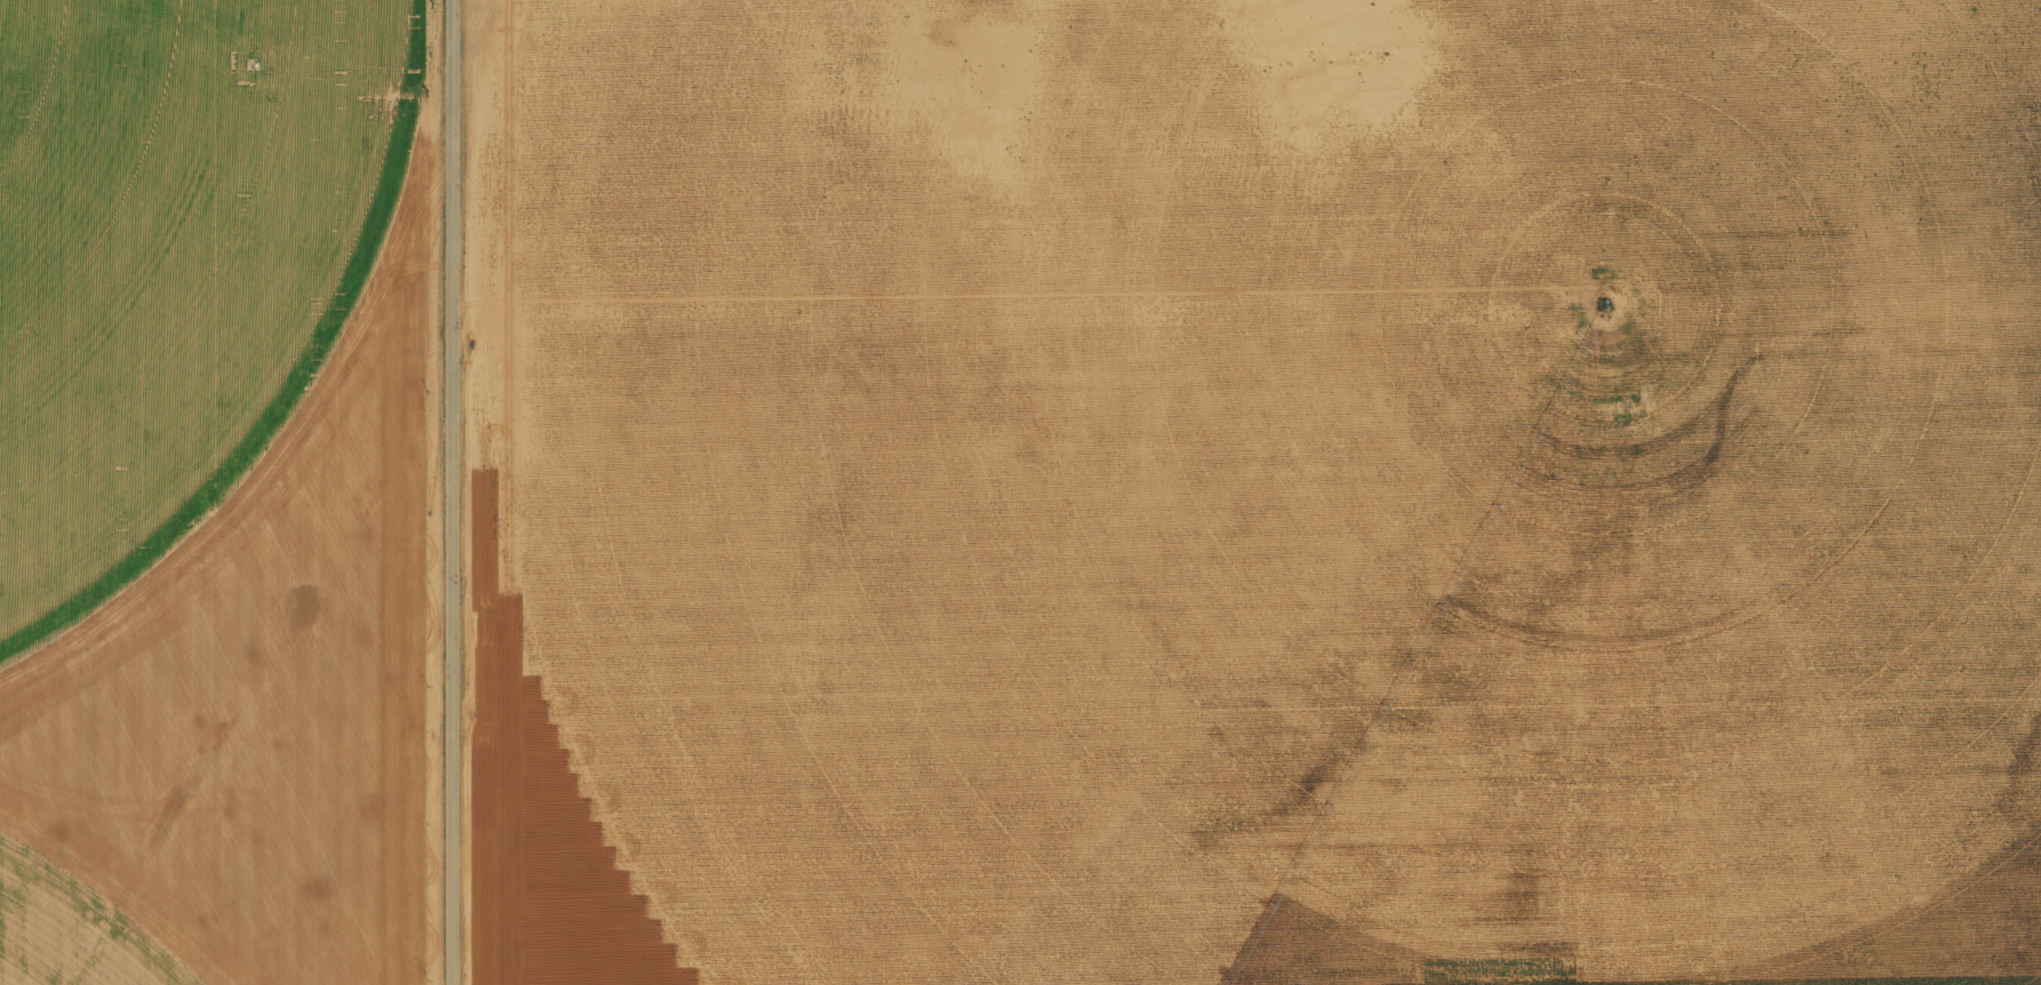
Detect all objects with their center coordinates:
road: (449, 492)

